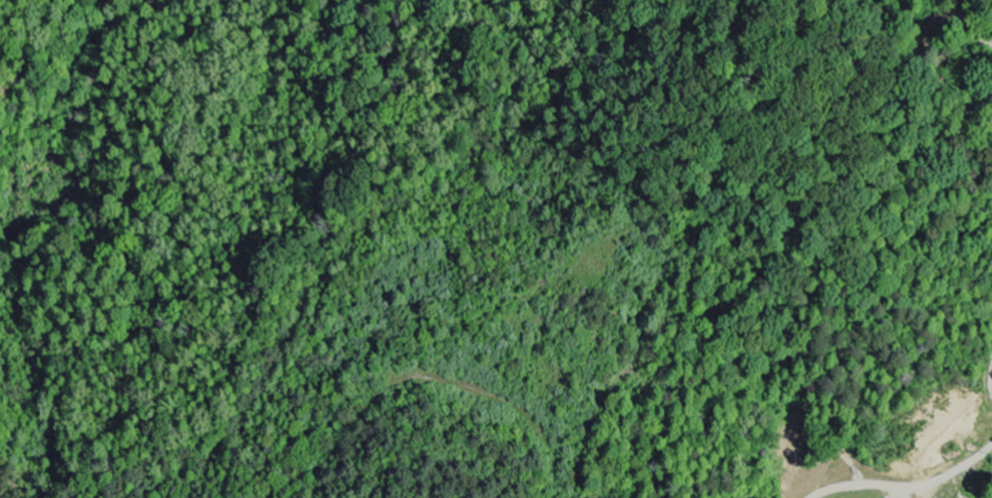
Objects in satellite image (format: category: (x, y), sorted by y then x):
road: (990, 375)

